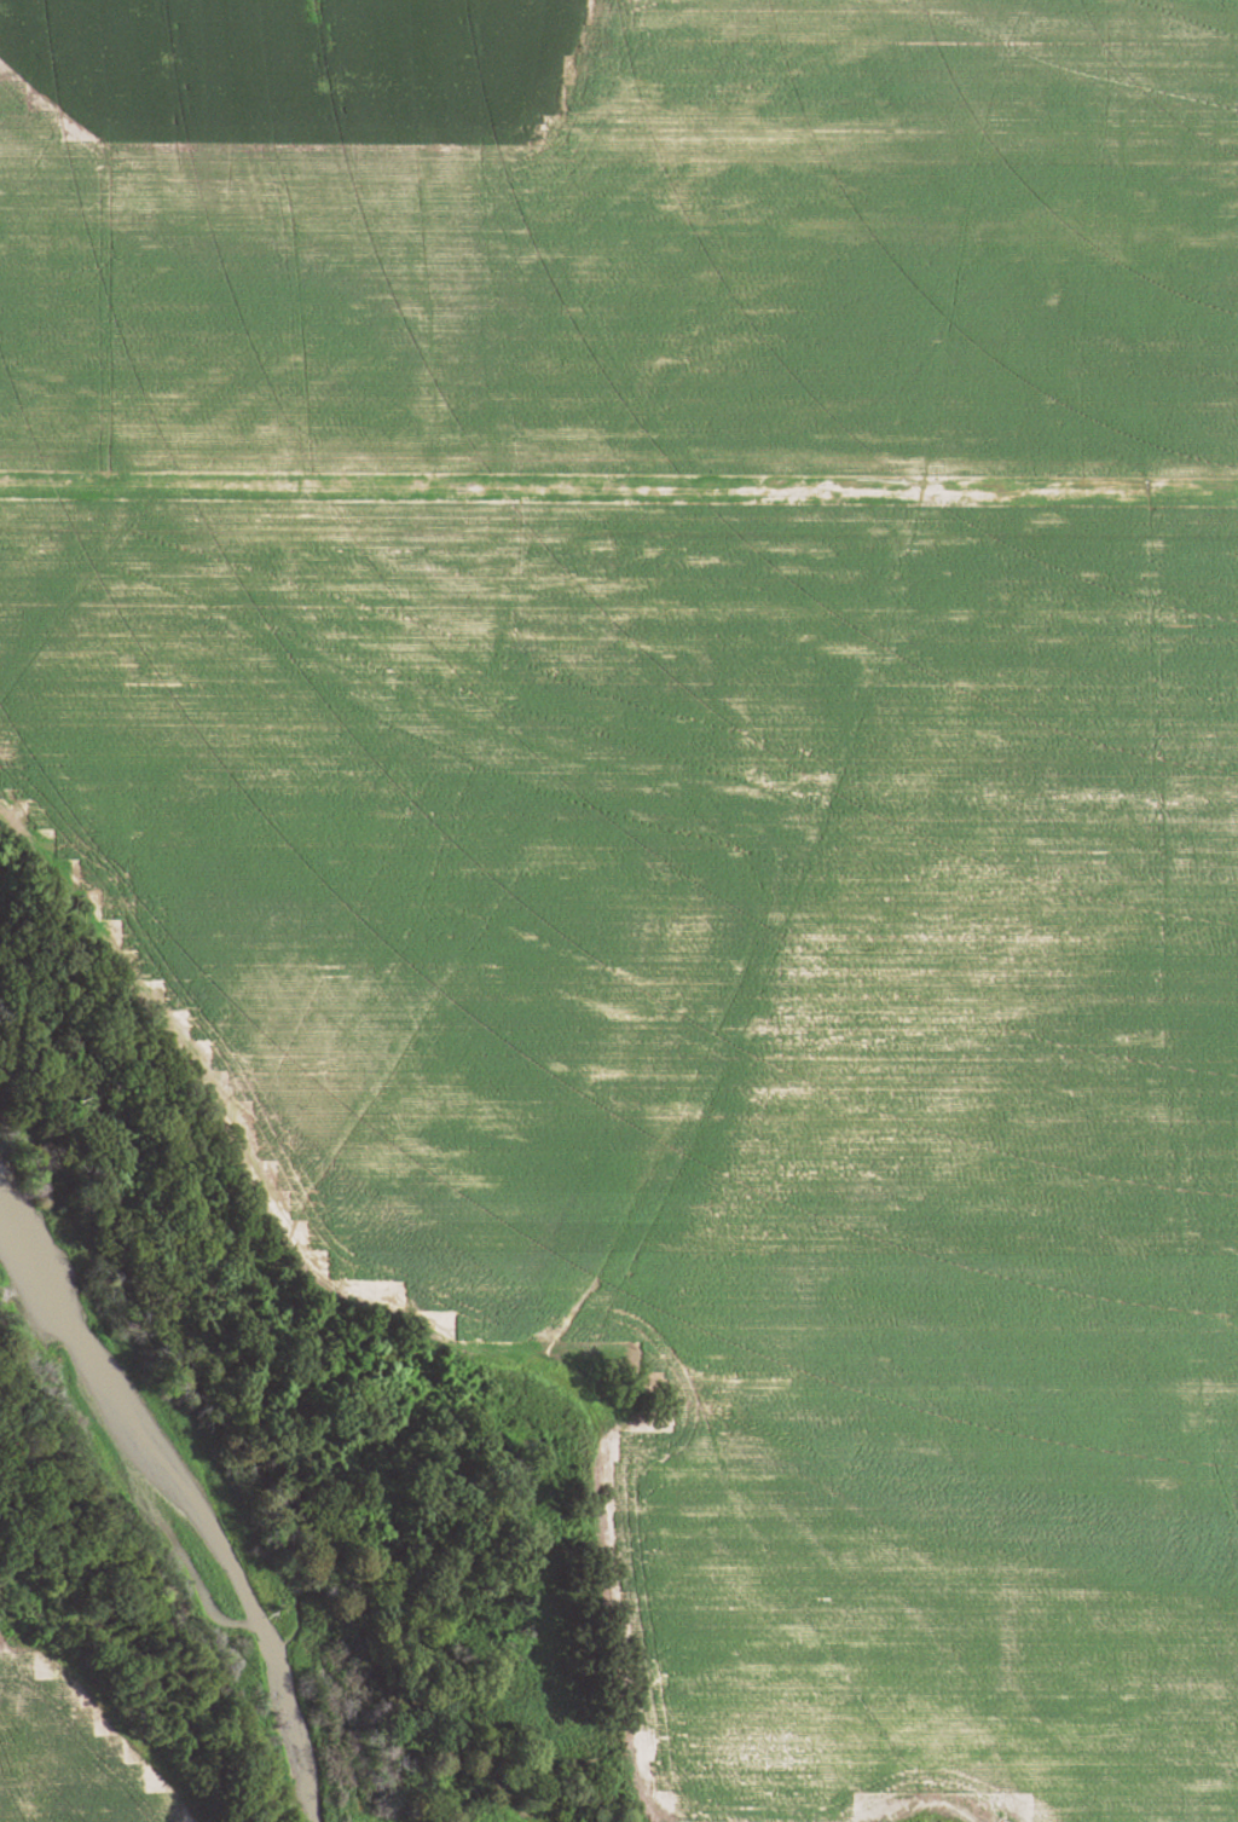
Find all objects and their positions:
road: (278, 187)
road: (698, 494)
river: (183, 1516)
road: (51, 1714)

